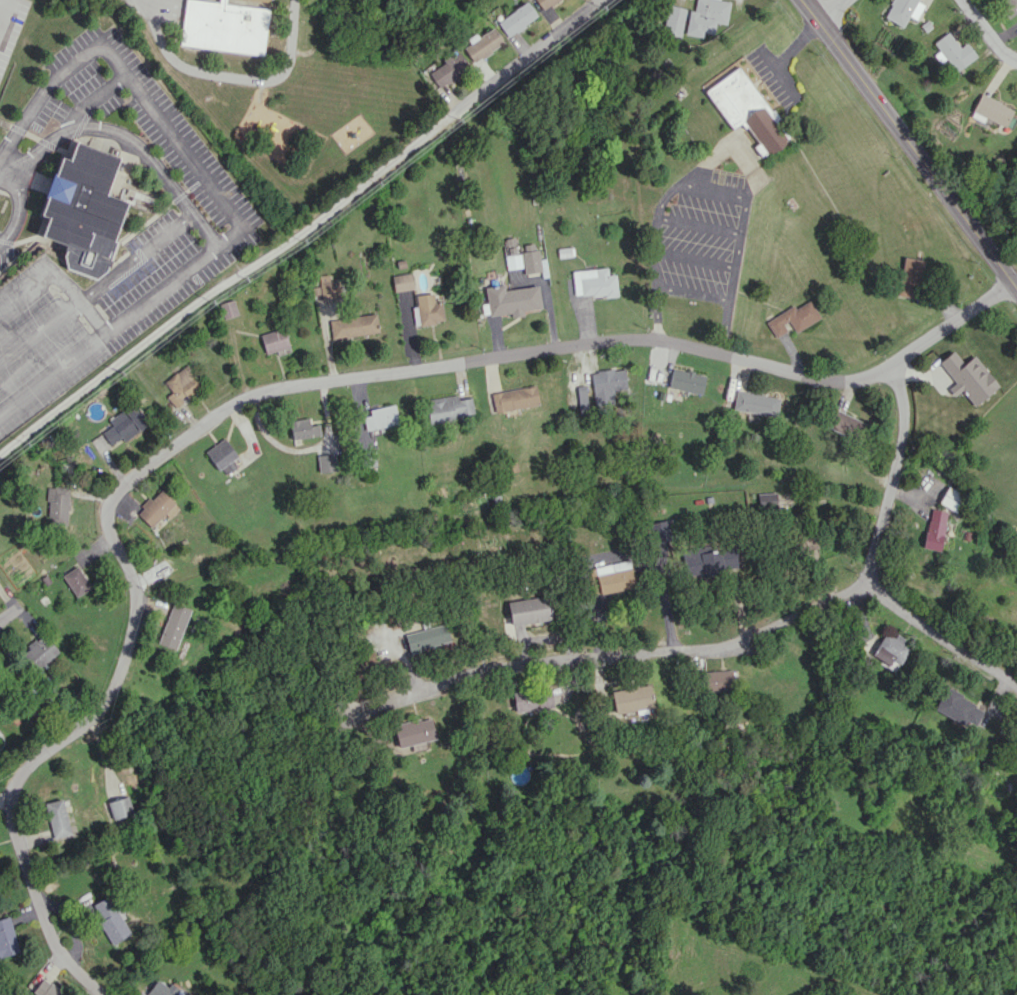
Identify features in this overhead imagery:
building: (544, 3)
building: (1009, 6)
road: (830, 9)
building: (902, 10)
road: (6, 16)
building: (695, 17)
building: (516, 18)
building: (223, 26)
road: (987, 31)
building: (482, 44)
building: (952, 51)
building: (448, 69)
road: (93, 96)
road: (37, 99)
building: (745, 109)
building: (990, 110)
road: (109, 129)
road: (909, 136)
road: (711, 191)
road: (663, 198)
road: (19, 205)
building: (83, 210)
road: (697, 225)
road: (204, 229)
road: (303, 229)
road: (654, 235)
road: (224, 239)
road: (1, 241)
road: (135, 255)
building: (530, 258)
building: (513, 261)
road: (653, 263)
road: (40, 276)
road: (731, 277)
building: (910, 277)
building: (402, 281)
building: (593, 282)
building: (329, 287)
building: (511, 299)
building: (429, 309)
road: (92, 315)
building: (792, 318)
building: (353, 325)
road: (39, 329)
building: (275, 341)
road: (517, 356)
building: (968, 376)
building: (685, 380)
building: (182, 385)
building: (606, 385)
building: (514, 398)
building: (581, 398)
building: (754, 403)
building: (448, 408)
building: (380, 417)
building: (124, 424)
building: (844, 424)
building: (302, 428)
building: (222, 456)
road: (891, 477)
building: (950, 498)
building: (766, 501)
building: (57, 505)
building: (156, 508)
building: (934, 529)
building: (658, 537)
building: (806, 541)
road: (614, 554)
building: (710, 561)
building: (610, 577)
building: (75, 581)
building: (528, 610)
building: (173, 625)
building: (426, 637)
road: (941, 642)
building: (889, 651)
building: (38, 652)
road: (628, 654)
building: (716, 680)
building: (531, 699)
building: (631, 699)
building: (957, 707)
building: (413, 731)
building: (1016, 760)
building: (519, 774)
road: (20, 781)
building: (119, 807)
building: (57, 818)
building: (109, 920)
building: (7, 937)
building: (45, 989)
building: (160, 989)

